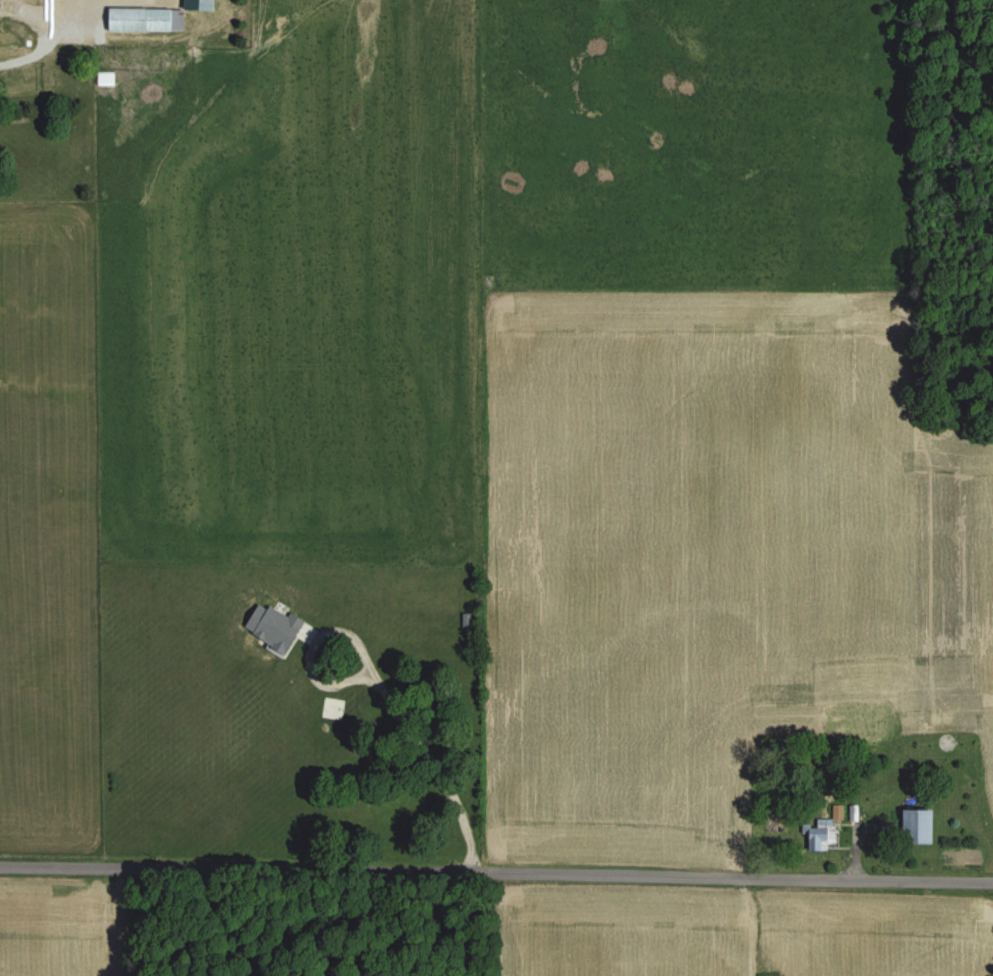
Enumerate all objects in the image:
road: (41, 14)
building: (144, 19)
building: (104, 78)
building: (23, 79)
road: (387, 691)
building: (915, 826)
building: (819, 833)
road: (496, 875)

